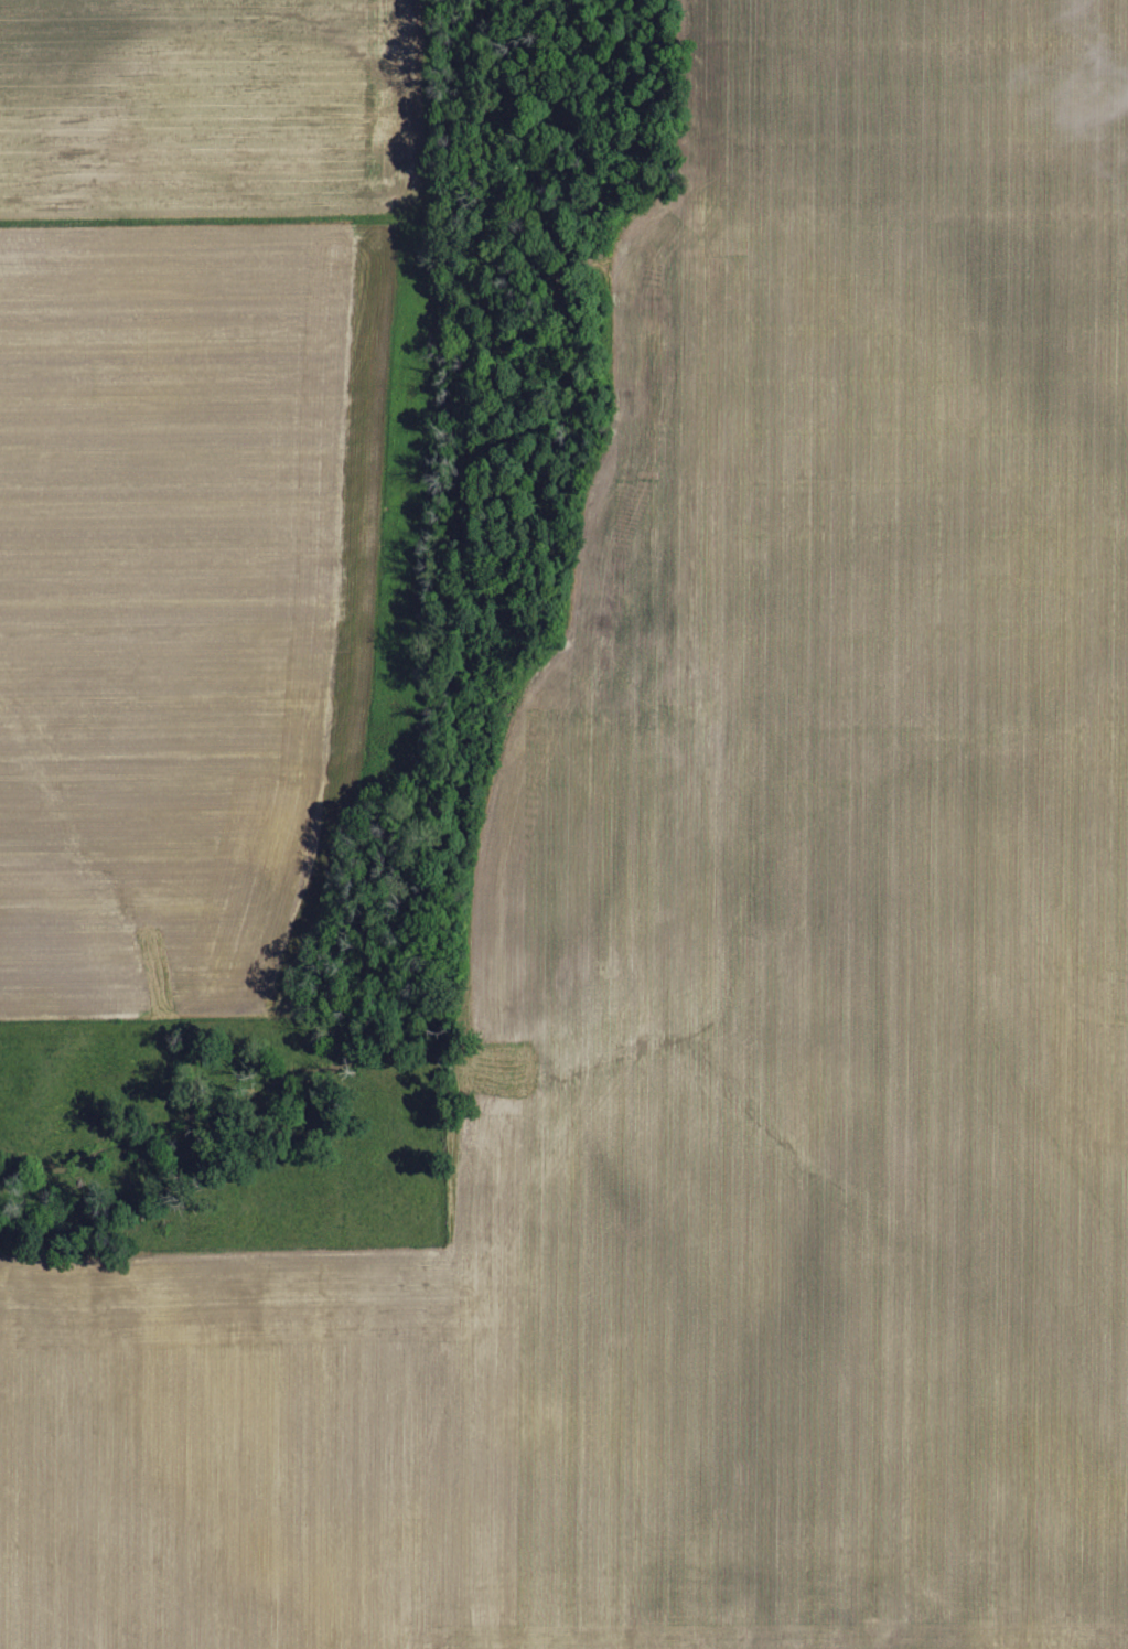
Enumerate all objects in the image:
crop: (205, 477)
crop: (728, 968)

